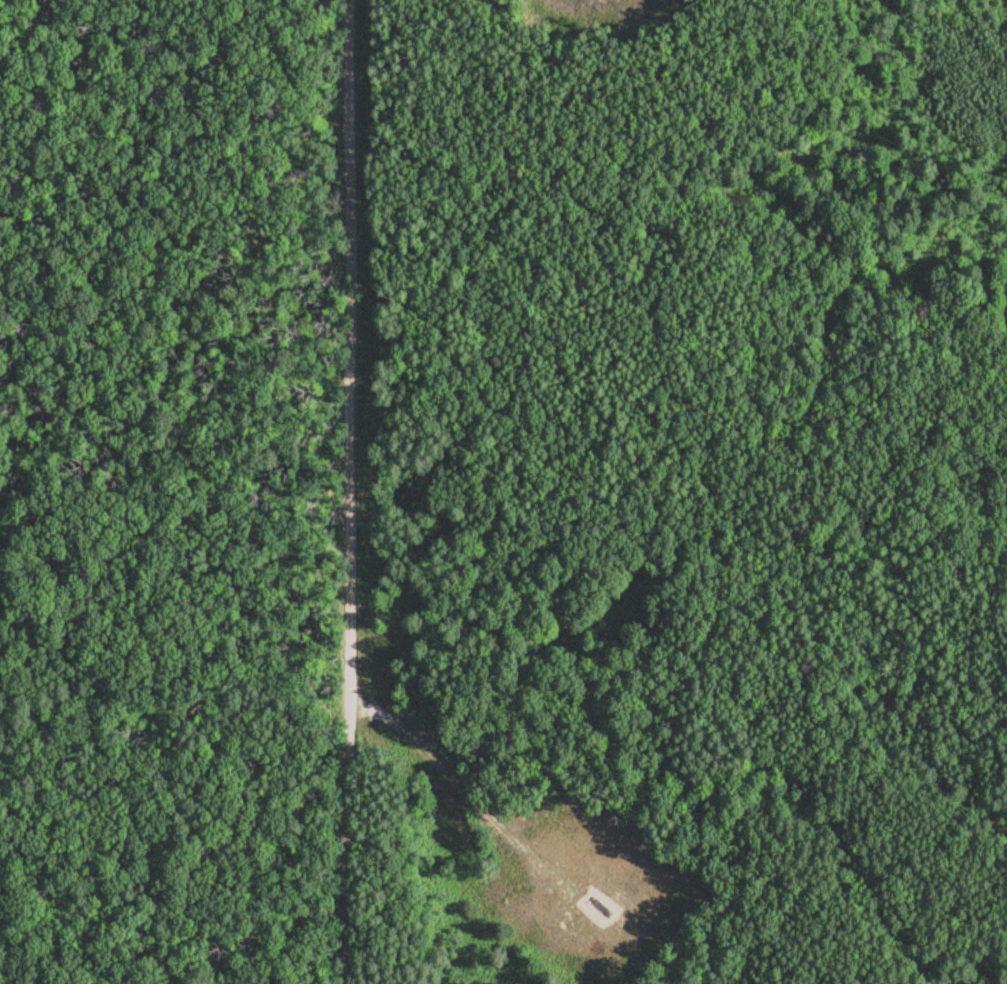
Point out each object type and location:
road: (347, 492)
road: (441, 775)
petroleum well: (587, 900)

